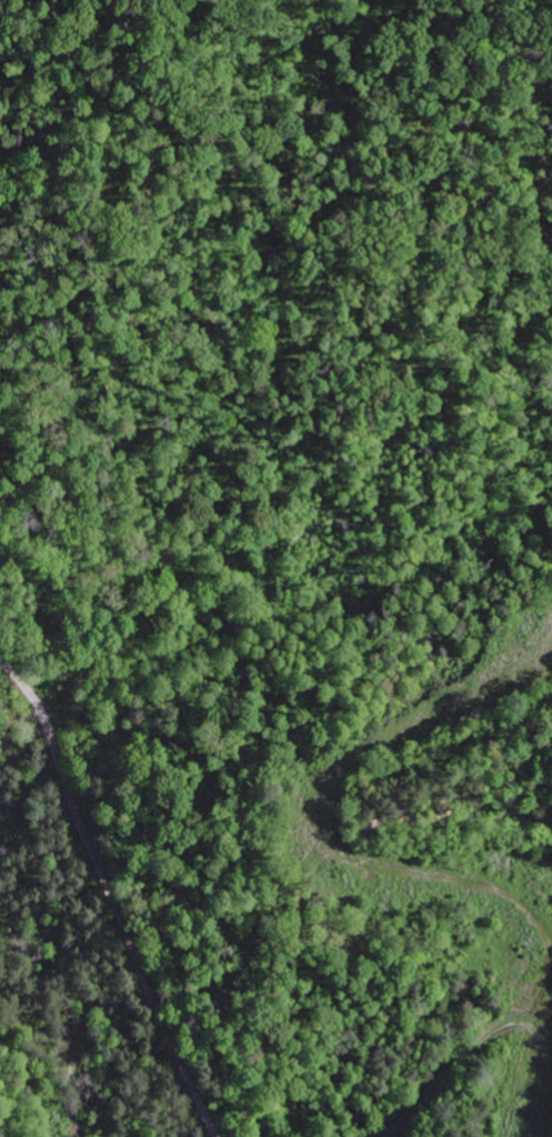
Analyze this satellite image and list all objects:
road: (148, 991)

